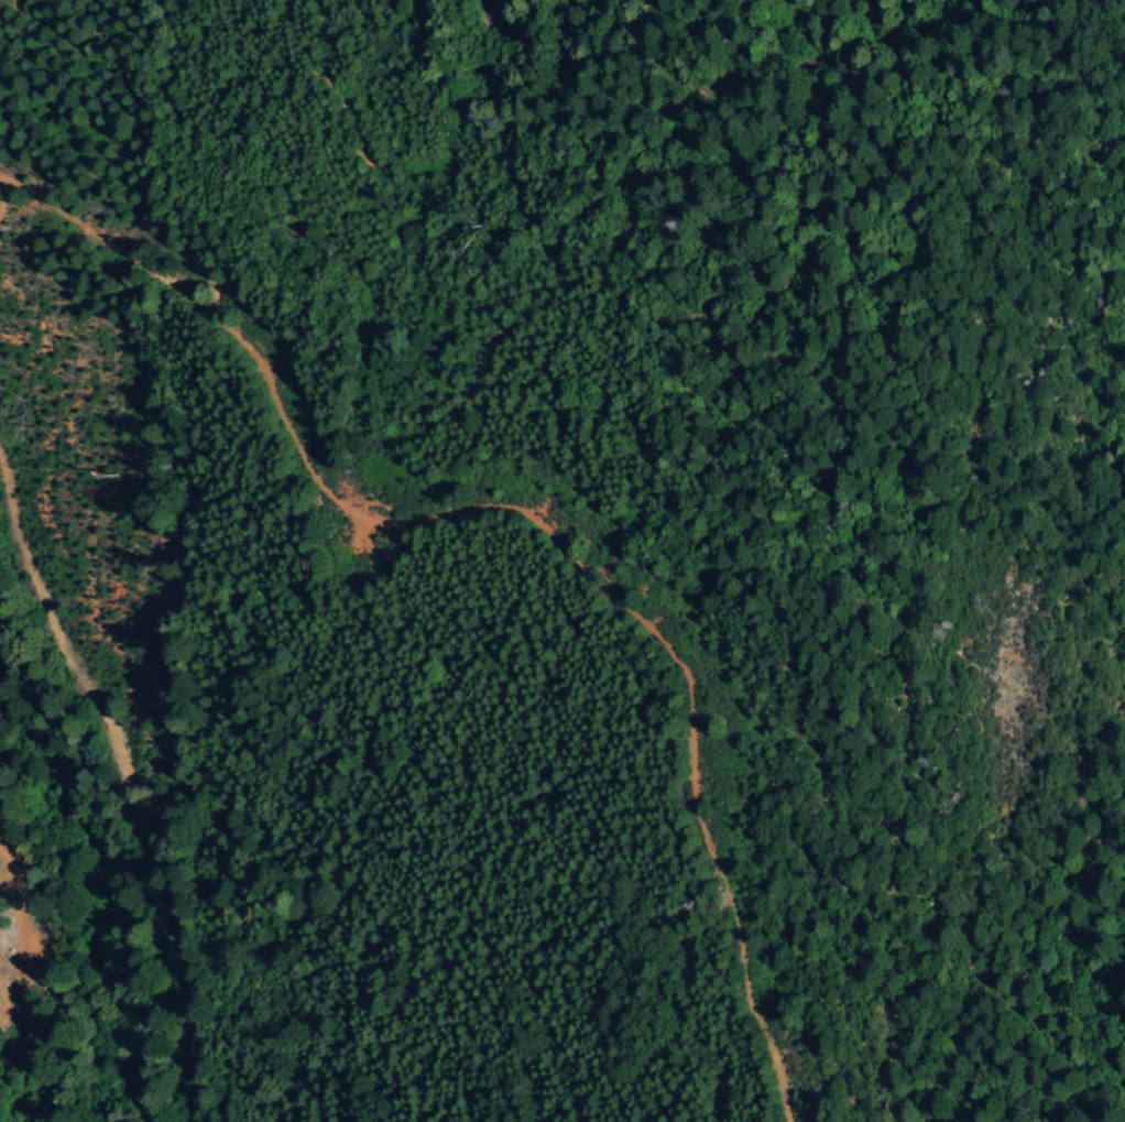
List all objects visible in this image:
road: (952, 30)
road: (343, 502)

